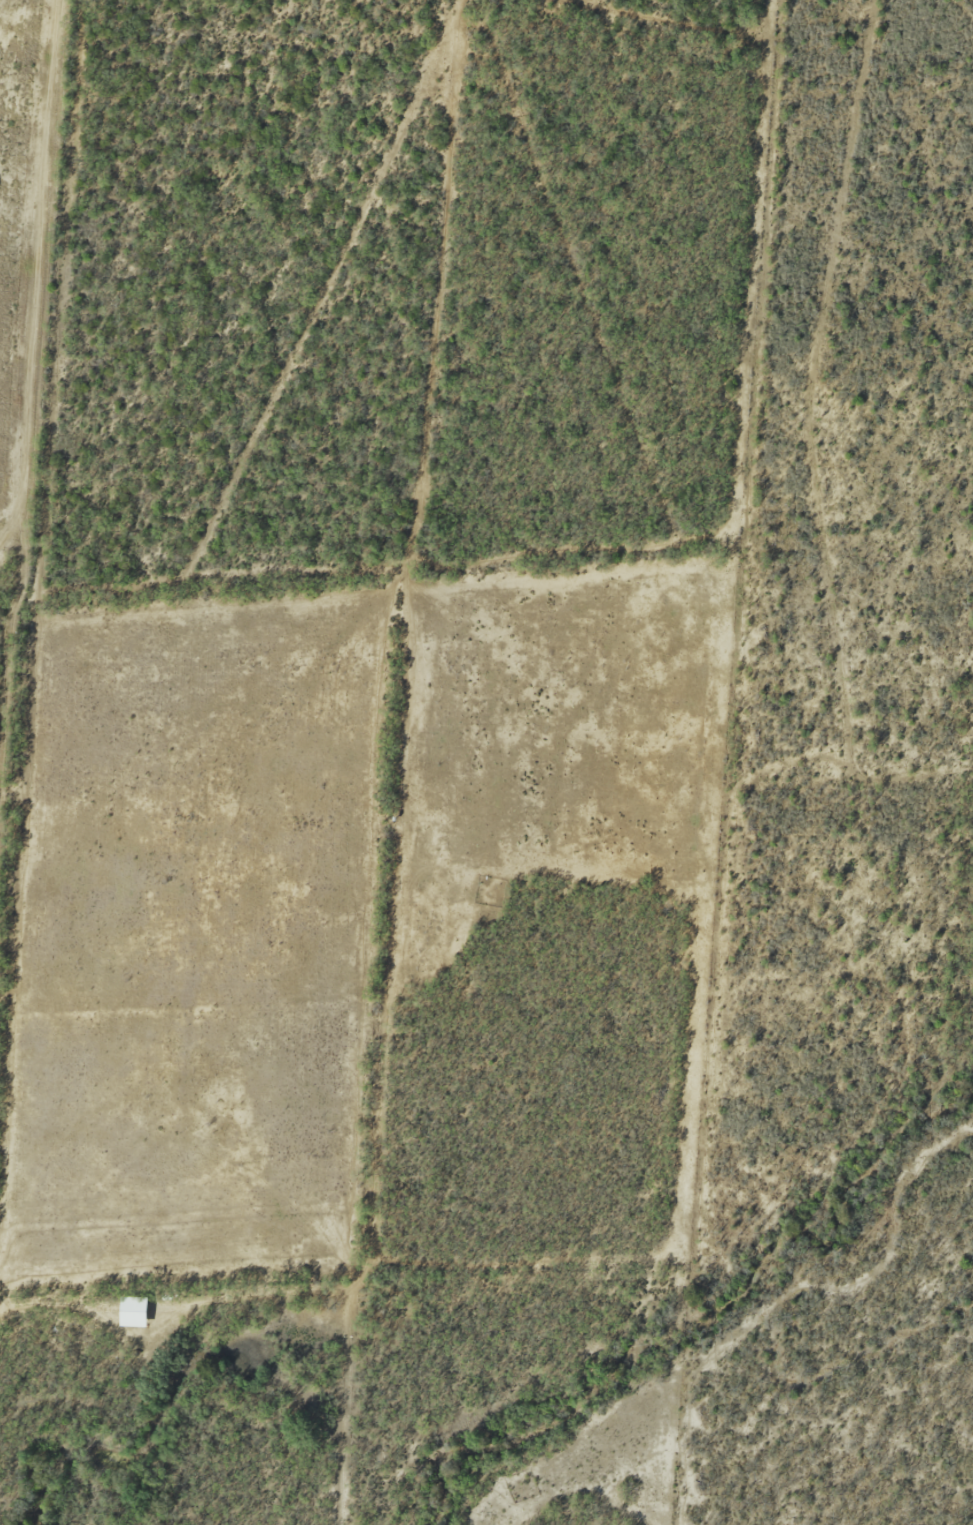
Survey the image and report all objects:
road: (33, 257)
building: (132, 1312)

